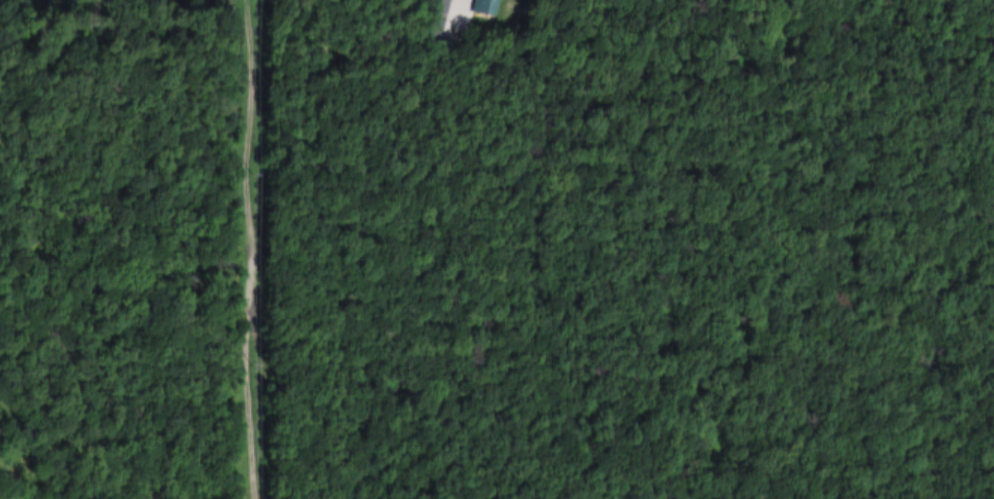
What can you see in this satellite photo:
building: (489, 7)
road: (451, 8)
road: (266, 249)

